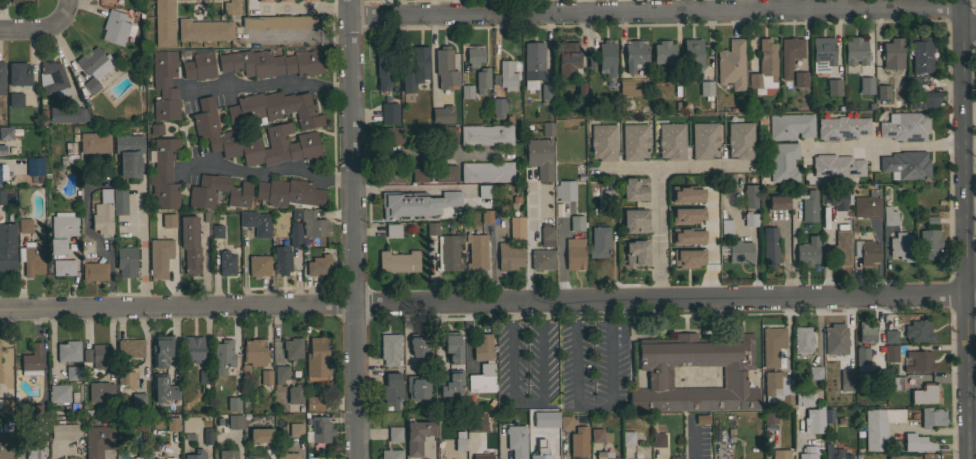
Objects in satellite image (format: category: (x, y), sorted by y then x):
building: (17, 0)
building: (202, 0)
building: (284, 0)
building: (307, 0)
building: (3, 1)
building: (263, 1)
road: (675, 5)
building: (231, 7)
road: (655, 10)
building: (281, 22)
building: (163, 23)
road: (968, 27)
building: (116, 28)
road: (41, 29)
building: (206, 31)
road: (302, 38)
building: (792, 47)
building: (855, 51)
building: (663, 52)
building: (822, 53)
building: (892, 54)
building: (474, 55)
building: (634, 55)
building: (692, 55)
building: (920, 55)
building: (606, 58)
building: (568, 59)
building: (533, 61)
building: (270, 63)
building: (731, 65)
building: (199, 66)
building: (764, 66)
building: (94, 67)
building: (445, 68)
building: (416, 69)
building: (508, 73)
building: (19, 74)
building: (383, 75)
building: (2, 78)
building: (800, 78)
building: (53, 79)
building: (482, 79)
building: (912, 83)
building: (164, 84)
road: (271, 84)
building: (752, 85)
building: (865, 85)
building: (834, 87)
building: (628, 88)
building: (706, 88)
building: (466, 91)
building: (570, 92)
building: (882, 92)
building: (546, 94)
building: (580, 95)
building: (15, 99)
building: (923, 100)
building: (498, 105)
building: (279, 108)
building: (389, 113)
building: (67, 114)
building: (443, 114)
building: (790, 126)
building: (905, 127)
building: (842, 128)
building: (156, 129)
building: (548, 129)
building: (418, 132)
building: (5, 133)
building: (446, 133)
building: (392, 135)
building: (485, 135)
building: (740, 140)
building: (255, 141)
building: (671, 141)
building: (704, 141)
building: (603, 142)
building: (634, 142)
building: (95, 143)
road: (884, 145)
road: (969, 148)
building: (2, 150)
building: (129, 154)
building: (68, 155)
road: (430, 155)
building: (540, 157)
building: (782, 162)
building: (906, 164)
road: (677, 165)
building: (836, 165)
building: (35, 168)
building: (3, 171)
building: (486, 172)
building: (163, 173)
road: (270, 173)
building: (445, 173)
building: (392, 174)
building: (419, 174)
building: (635, 189)
building: (565, 190)
building: (235, 191)
building: (484, 191)
building: (288, 193)
building: (885, 193)
building: (750, 196)
building: (2, 197)
building: (608, 197)
building: (836, 197)
building: (119, 201)
building: (777, 202)
building: (416, 203)
building: (867, 205)
building: (809, 206)
building: (683, 208)
building: (102, 213)
building: (486, 216)
building: (889, 216)
building: (750, 219)
building: (168, 220)
building: (930, 220)
building: (635, 221)
building: (576, 222)
building: (256, 223)
building: (311, 223)
building: (24, 226)
building: (726, 226)
building: (432, 228)
building: (516, 228)
road: (352, 229)
road: (963, 229)
building: (62, 230)
building: (216, 231)
building: (392, 231)
road: (657, 231)
building: (294, 234)
road: (528, 234)
building: (546, 235)
building: (682, 238)
building: (229, 240)
building: (599, 242)
road: (711, 242)
building: (929, 243)
building: (189, 244)
building: (770, 246)
building: (901, 246)
road: (142, 247)
building: (7, 248)
building: (841, 248)
building: (740, 251)
building: (865, 251)
building: (476, 252)
building: (808, 252)
building: (448, 253)
building: (574, 253)
building: (636, 253)
building: (32, 256)
building: (508, 257)
building: (159, 258)
building: (281, 259)
building: (542, 259)
building: (682, 260)
building: (126, 261)
building: (398, 262)
road: (558, 262)
building: (225, 263)
building: (318, 265)
building: (258, 266)
building: (63, 267)
building: (94, 271)
road: (970, 271)
road: (482, 298)
building: (918, 331)
building: (866, 332)
road: (468, 333)
building: (890, 336)
road: (173, 337)
building: (835, 339)
building: (802, 340)
road: (146, 341)
building: (773, 346)
building: (130, 347)
building: (453, 347)
building: (193, 348)
building: (293, 348)
building: (389, 348)
building: (68, 351)
building: (160, 351)
building: (254, 352)
building: (860, 353)
building: (890, 353)
building: (96, 355)
building: (223, 356)
building: (317, 357)
building: (32, 361)
building: (920, 361)
building: (482, 365)
building: (418, 367)
building: (654, 367)
building: (814, 372)
building: (73, 373)
building: (280, 374)
building: (204, 376)
building: (0, 377)
building: (265, 377)
building: (126, 379)
building: (846, 380)
building: (897, 383)
building: (451, 384)
building: (778, 388)
building: (163, 389)
building: (391, 390)
building: (100, 391)
building: (59, 393)
building: (295, 394)
building: (925, 394)
road: (971, 394)
building: (804, 399)
building: (138, 400)
building: (314, 403)
building: (233, 404)
building: (6, 405)
road: (525, 406)
road: (594, 406)
building: (21, 407)
building: (770, 417)
building: (931, 417)
building: (702, 419)
building: (814, 420)
building: (476, 421)
building: (545, 421)
building: (234, 422)
building: (565, 422)
building: (172, 424)
building: (137, 426)
building: (879, 426)
building: (296, 430)
building: (319, 430)
building: (64, 431)
building: (142, 434)
building: (394, 434)
building: (261, 435)
building: (599, 435)
building: (207, 436)
road: (796, 436)
building: (416, 437)
building: (628, 437)
building: (562, 438)
building: (98, 440)
building: (658, 440)
building: (516, 441)
building: (579, 441)
road: (499, 443)
building: (917, 443)
building: (460, 444)
building: (5, 445)
building: (32, 445)
road: (694, 447)
building: (540, 451)
building: (808, 452)
building: (143, 454)
building: (196, 454)
building: (228, 454)
building: (391, 454)
building: (780, 454)
building: (837, 454)
building: (604, 455)
road: (241, 456)
building: (287, 456)
building: (482, 456)
building: (894, 456)
building: (70, 457)
building: (169, 458)
building: (674, 458)

